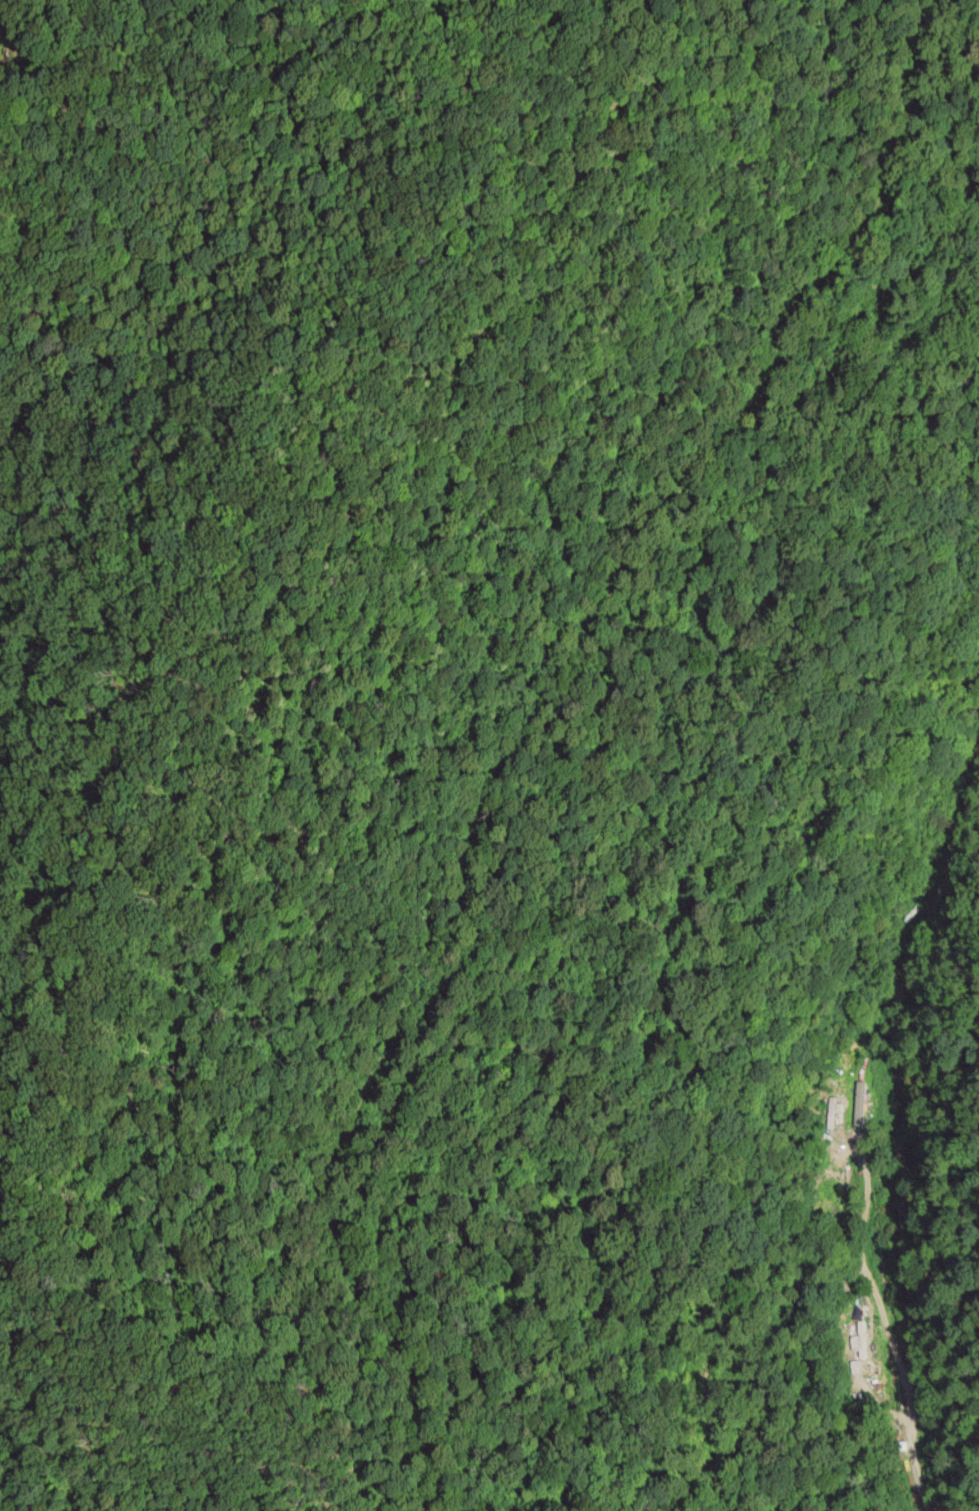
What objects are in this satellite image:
building: (849, 1107)
road: (887, 1328)

